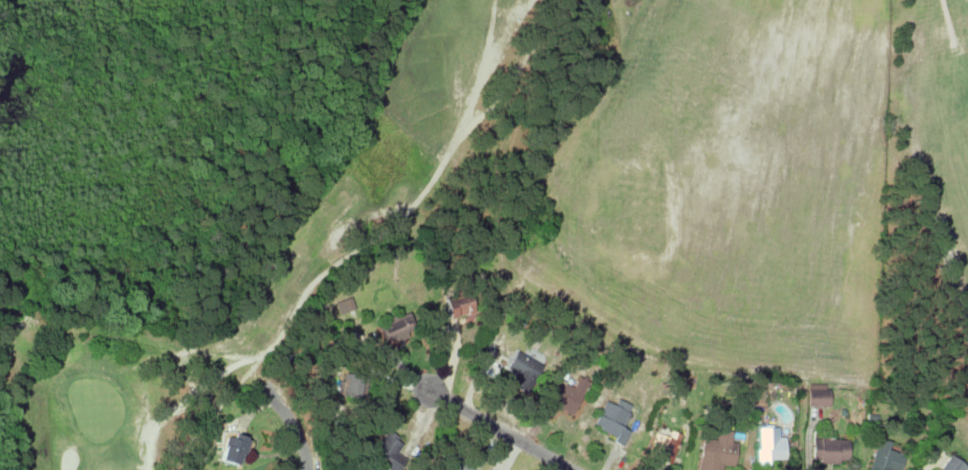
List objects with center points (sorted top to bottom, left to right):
building: (457, 303)
building: (343, 305)
building: (394, 326)
building: (523, 369)
building: (350, 385)
building: (817, 394)
building: (565, 395)
building: (613, 419)
road: (287, 421)
road: (484, 421)
building: (769, 441)
building: (663, 447)
building: (387, 448)
building: (232, 449)
building: (829, 450)
building: (717, 451)
building: (885, 456)
building: (454, 464)
building: (951, 464)

